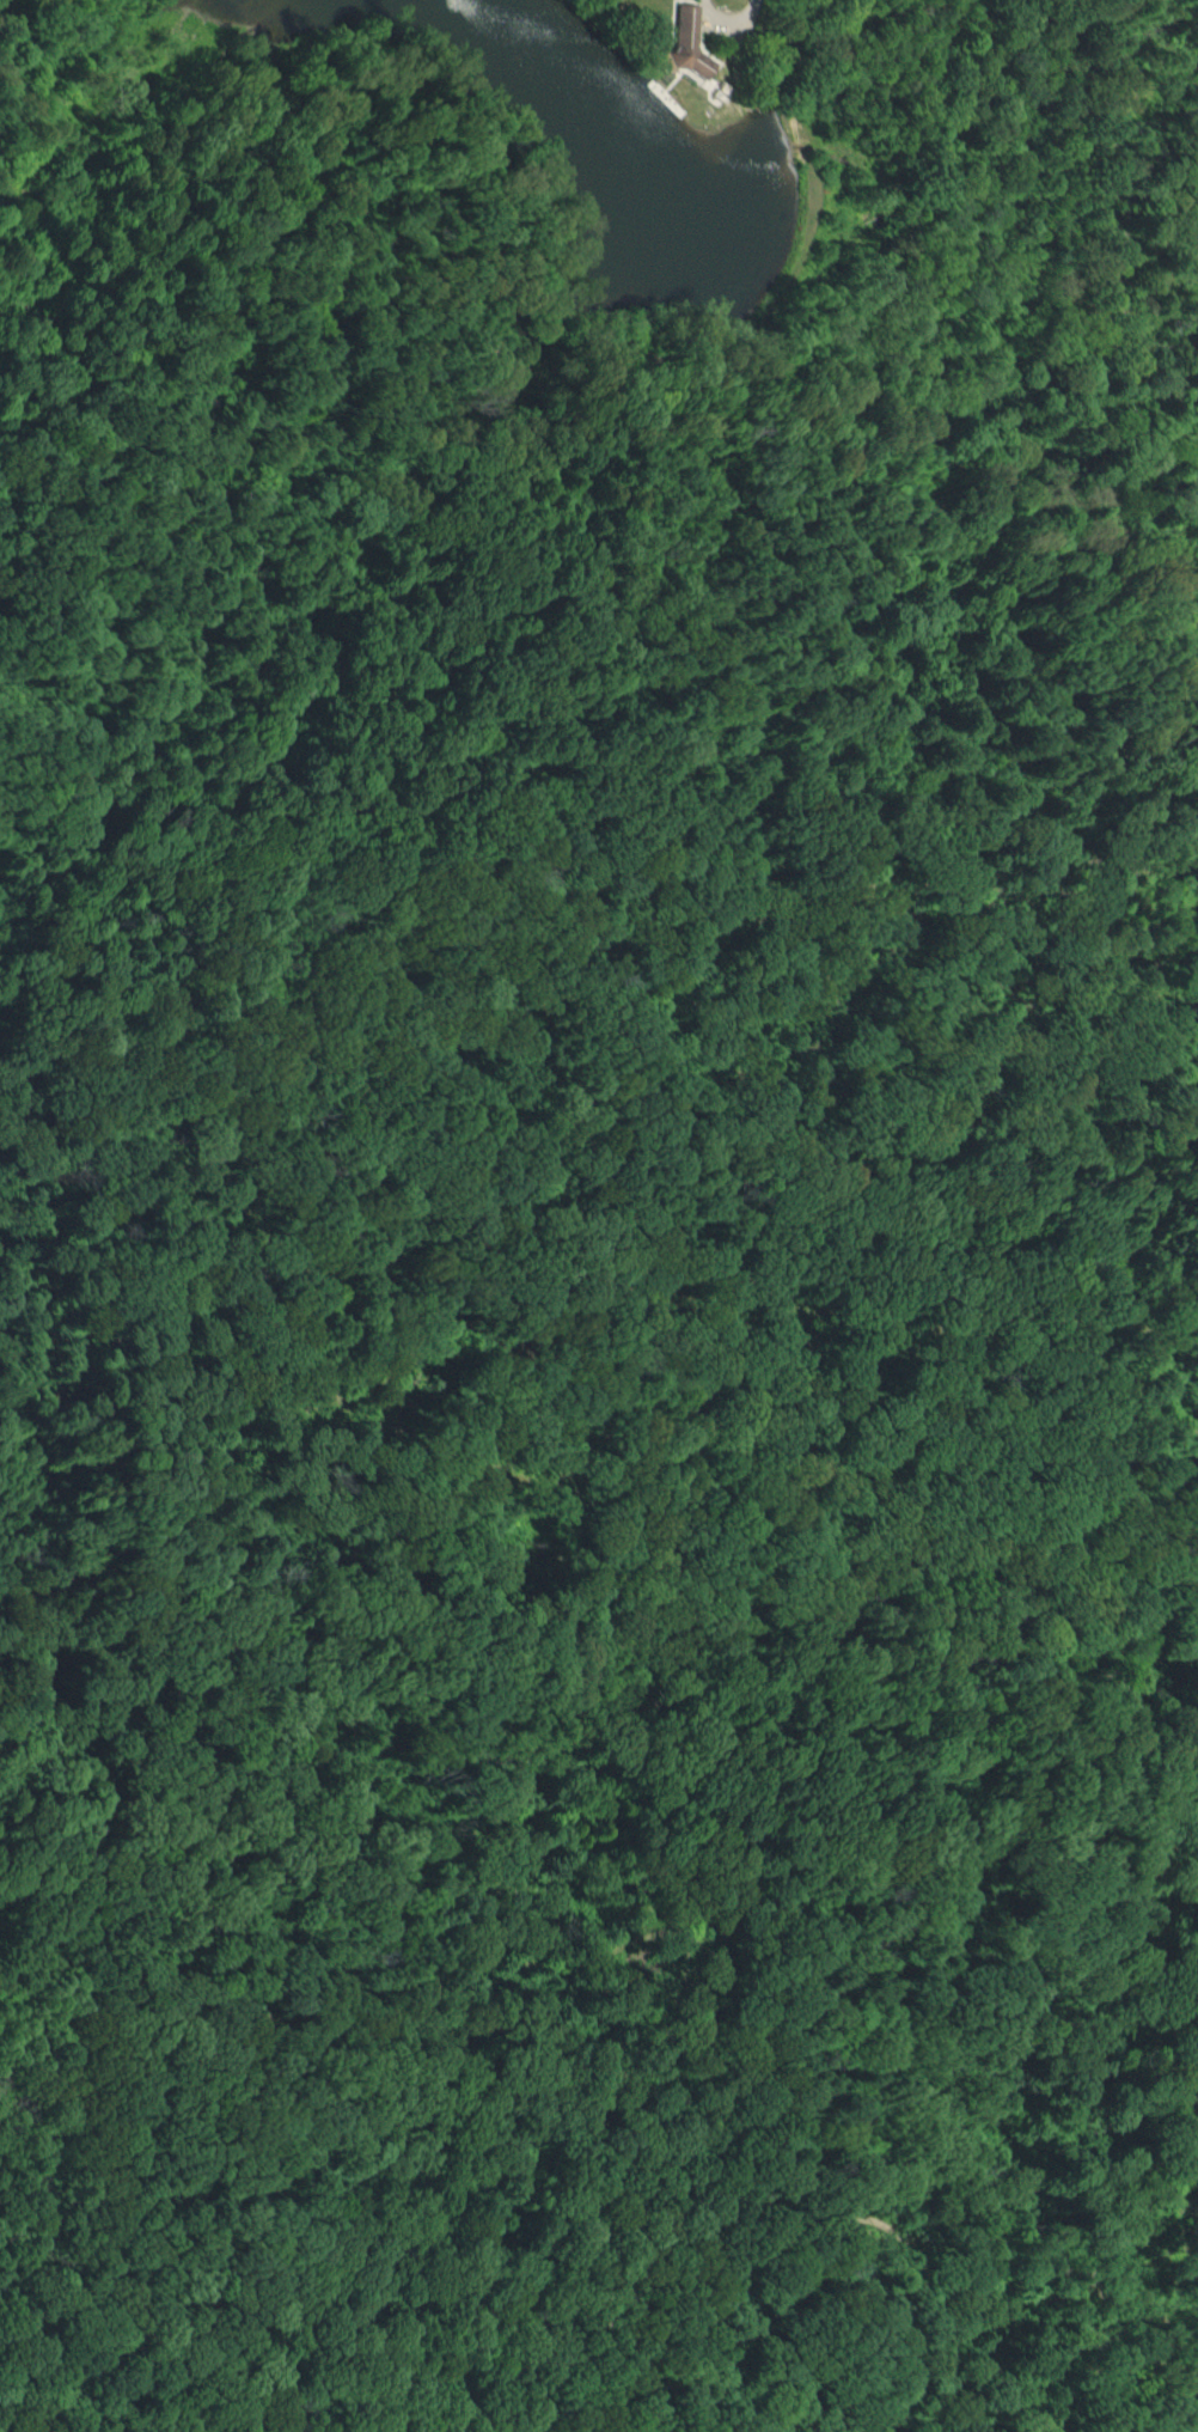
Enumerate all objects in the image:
building: (692, 60)

